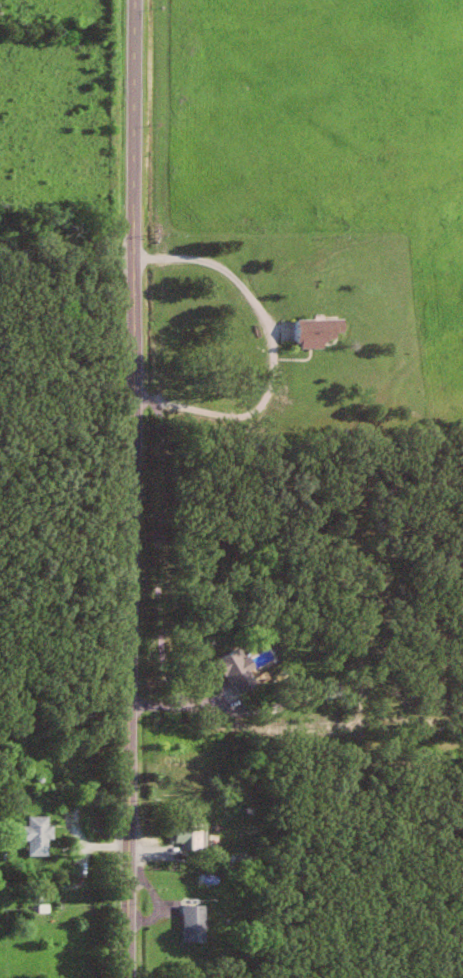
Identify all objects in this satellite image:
road: (227, 277)
building: (322, 330)
road: (132, 488)
road: (154, 545)
building: (242, 669)
building: (337, 690)
road: (186, 704)
building: (41, 834)
building: (194, 835)
building: (197, 923)

